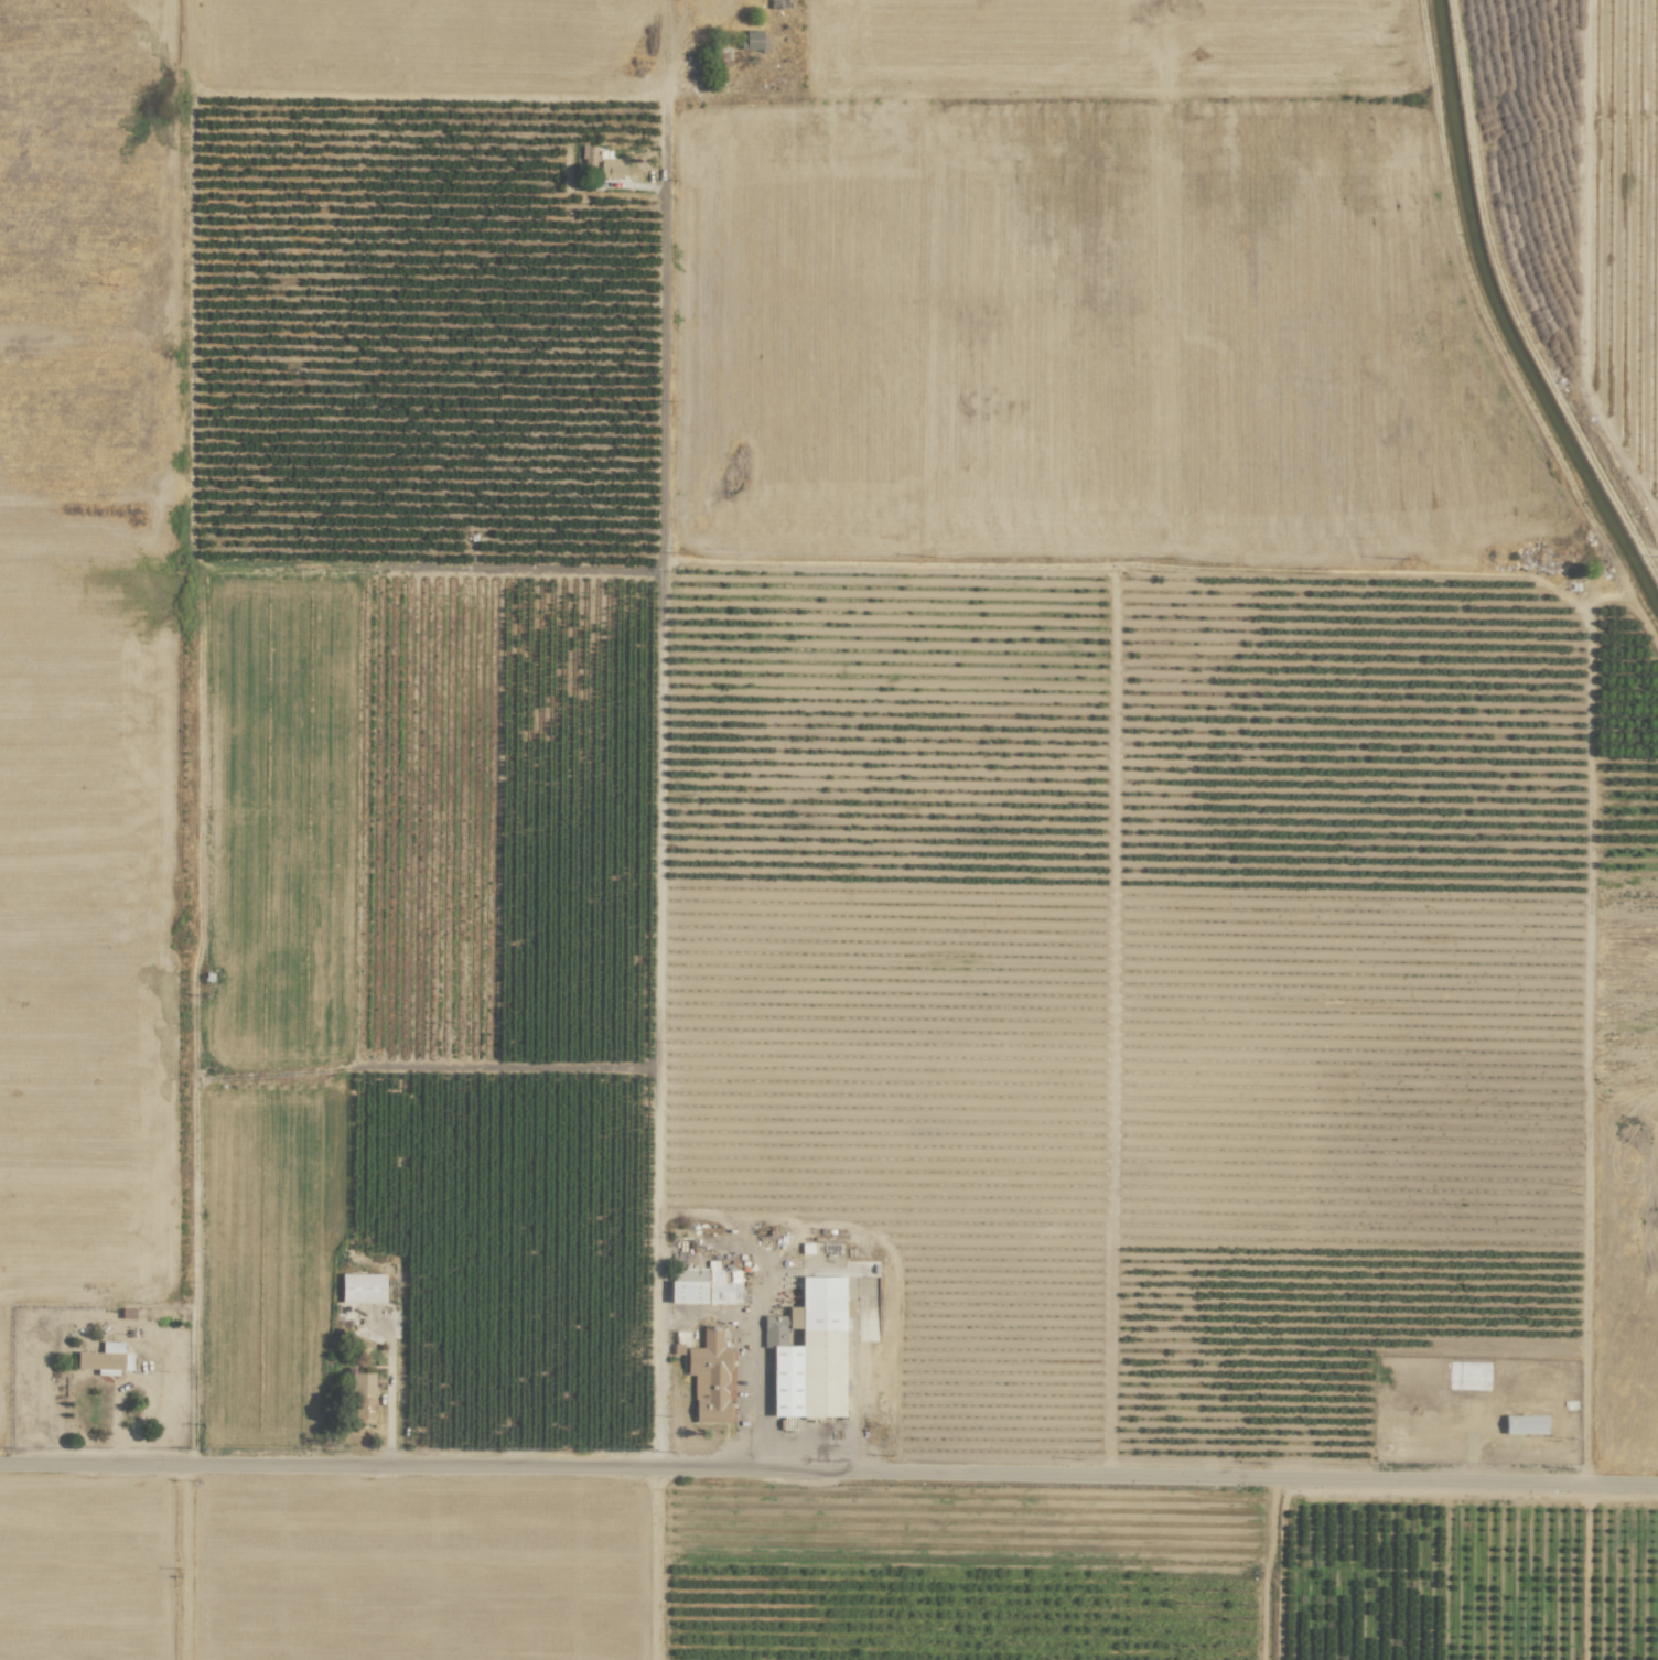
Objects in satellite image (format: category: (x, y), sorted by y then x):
building: (753, 41)
building: (612, 168)
road: (661, 797)
building: (687, 1285)
building: (722, 1285)
building: (362, 1287)
building: (774, 1330)
building: (811, 1354)
building: (105, 1358)
building: (709, 1378)
building: (362, 1398)
road: (749, 1400)
building: (1524, 1424)
road: (829, 1486)
road: (648, 1572)
road: (664, 1572)

